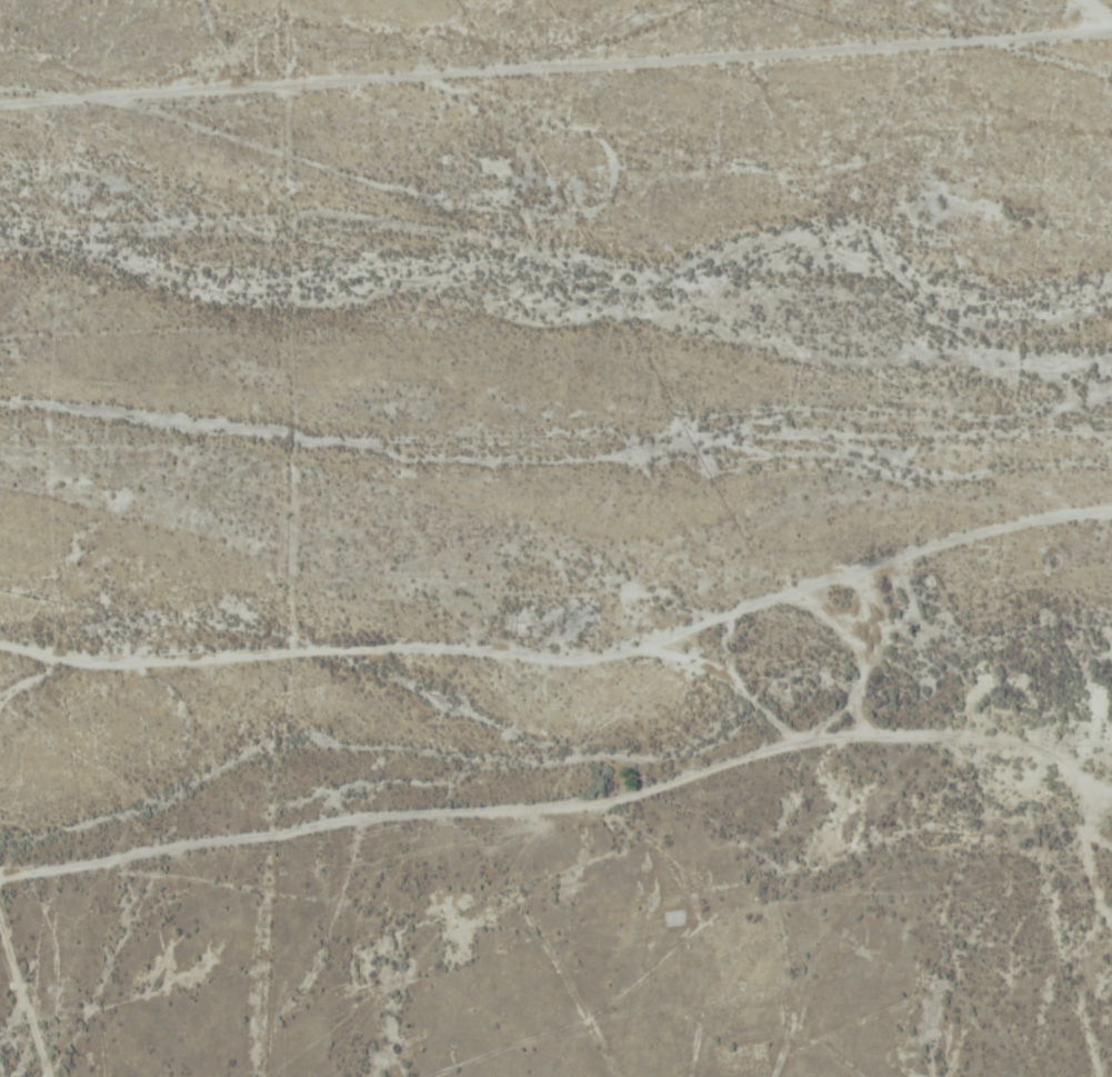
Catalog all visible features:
road: (560, 840)

